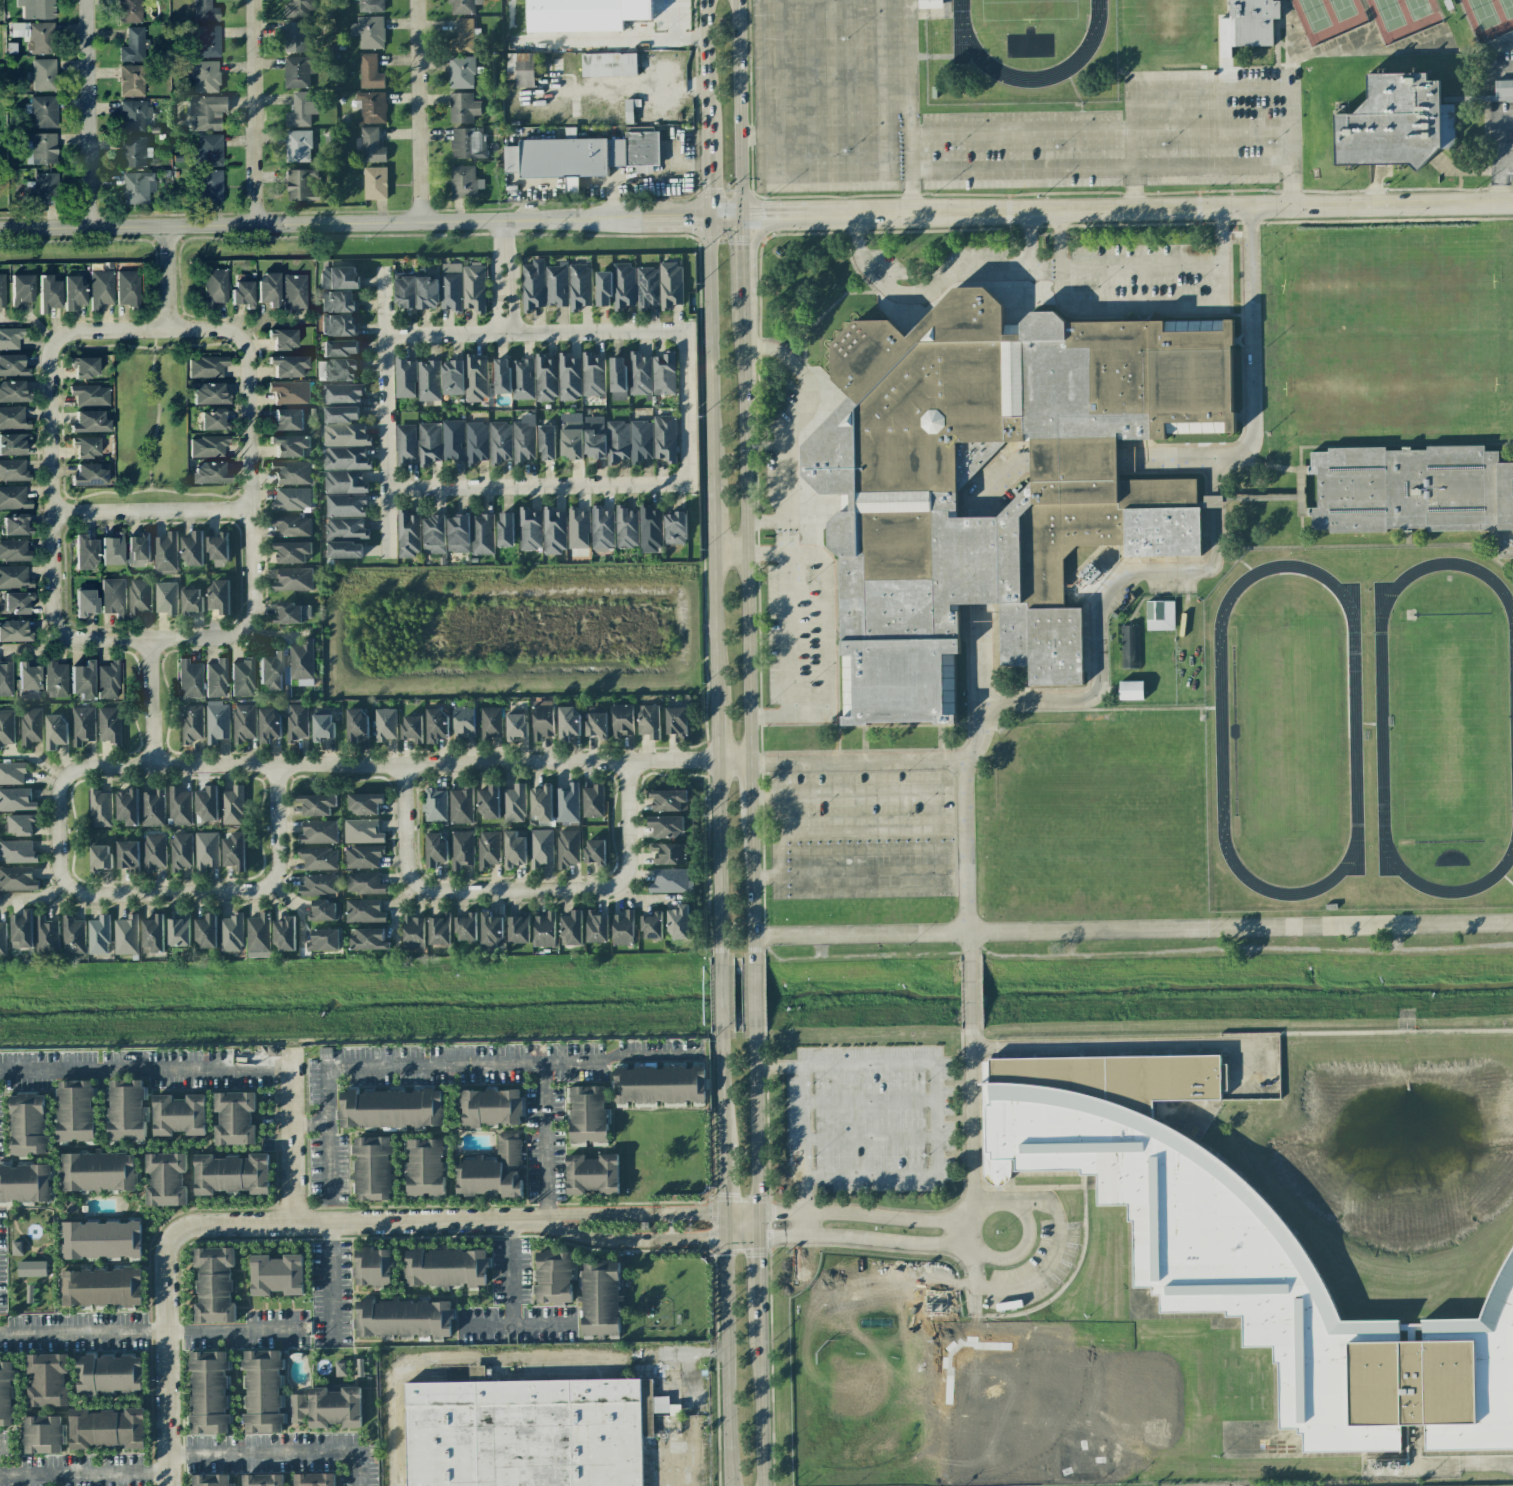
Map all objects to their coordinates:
building: (929, 4)
building: (370, 6)
building: (463, 6)
park: (1506, 7)
building: (298, 8)
park: (1341, 8)
park: (1417, 8)
building: (38, 9)
building: (130, 11)
building: (205, 11)
park: (1028, 11)
park: (1389, 13)
park: (1482, 13)
building: (584, 14)
park: (1313, 14)
road: (671, 19)
building: (1247, 24)
building: (369, 31)
building: (36, 36)
building: (462, 36)
building: (295, 37)
road: (624, 39)
building: (207, 41)
track: (964, 42)
building: (134, 45)
stadium: (1020, 51)
building: (609, 64)
road: (707, 64)
building: (522, 68)
building: (298, 71)
building: (370, 72)
building: (461, 72)
building: (44, 74)
building: (204, 75)
building: (134, 79)
road: (658, 89)
building: (1503, 90)
building: (372, 107)
building: (462, 107)
road: (733, 107)
building: (301, 110)
building: (42, 111)
road: (420, 111)
building: (206, 112)
road: (256, 112)
road: (89, 113)
building: (134, 115)
building: (1392, 120)
road: (1173, 128)
road: (1056, 130)
road: (878, 132)
road: (750, 135)
road: (1500, 137)
building: (467, 143)
building: (370, 145)
building: (298, 146)
road: (1295, 146)
building: (41, 148)
building: (635, 149)
building: (134, 151)
building: (208, 151)
building: (558, 159)
road: (1508, 161)
road: (944, 171)
road: (709, 172)
building: (464, 182)
building: (374, 183)
road: (1503, 183)
building: (304, 184)
building: (210, 186)
building: (137, 187)
building: (41, 190)
road: (756, 215)
traffic signals: (710, 216)
traffic signals: (734, 216)
road: (1061, 237)
road: (1029, 238)
road: (736, 258)
road: (1027, 265)
road: (168, 277)
building: (339, 278)
road: (497, 278)
road: (511, 278)
building: (533, 285)
building: (557, 285)
building: (670, 285)
building: (215, 286)
building: (624, 286)
building: (451, 287)
building: (580, 287)
building: (647, 287)
building: (127, 288)
building: (603, 288)
building: (21, 289)
building: (101, 289)
building: (269, 289)
building: (2, 291)
building: (73, 292)
building: (405, 292)
building: (48, 293)
building: (242, 293)
building: (294, 293)
building: (427, 293)
building: (339, 301)
building: (339, 325)
road: (158, 330)
road: (533, 334)
road: (1251, 337)
building: (10, 338)
building: (284, 339)
road: (712, 343)
building: (340, 348)
building: (12, 365)
building: (289, 366)
building: (85, 367)
building: (207, 367)
building: (338, 370)
building: (639, 373)
building: (664, 373)
building: (617, 374)
building: (593, 375)
building: (501, 376)
building: (452, 377)
building: (569, 377)
building: (405, 378)
building: (475, 378)
building: (545, 378)
building: (522, 379)
building: (428, 380)
building: (12, 392)
building: (290, 392)
building: (209, 393)
building: (341, 393)
building: (90, 395)
road: (387, 407)
road: (685, 407)
building: (341, 414)
building: (13, 418)
building: (212, 419)
building: (287, 419)
building: (90, 422)
building: (345, 435)
building: (571, 435)
building: (594, 437)
building: (524, 438)
building: (665, 438)
building: (453, 440)
building: (617, 441)
building: (640, 441)
building: (476, 442)
building: (547, 442)
building: (406, 443)
building: (429, 443)
building: (499, 443)
building: (13, 444)
building: (289, 445)
building: (208, 446)
building: (86, 447)
building: (345, 458)
road: (1222, 460)
building: (13, 470)
building: (291, 472)
building: (211, 473)
building: (90, 474)
building: (344, 482)
road: (54, 483)
road: (537, 486)
road: (250, 487)
building: (1418, 492)
road: (782, 493)
building: (13, 498)
building: (291, 499)
building: (346, 505)
building: (1107, 507)
road: (715, 510)
road: (152, 511)
building: (15, 524)
building: (292, 525)
building: (626, 527)
road: (761, 527)
building: (346, 528)
building: (602, 528)
building: (675, 528)
building: (505, 529)
building: (530, 529)
building: (578, 529)
building: (650, 530)
building: (554, 531)
road: (743, 532)
building: (459, 533)
building: (408, 534)
building: (434, 534)
building: (482, 534)
road: (1413, 546)
building: (112, 549)
building: (192, 549)
building: (13, 550)
building: (139, 550)
building: (218, 550)
building: (345, 550)
road: (747, 550)
building: (84, 552)
building: (165, 552)
building: (291, 552)
building: (1090, 573)
building: (14, 577)
building: (293, 580)
road: (1107, 593)
building: (219, 595)
building: (113, 596)
building: (139, 597)
building: (166, 598)
building: (191, 601)
building: (85, 602)
building: (15, 603)
building: (292, 613)
building: (1159, 615)
road: (715, 619)
building: (14, 631)
road: (829, 631)
road: (153, 639)
building: (1129, 646)
building: (301, 662)
building: (271, 671)
building: (216, 678)
building: (243, 678)
building: (6, 679)
building: (56, 679)
building: (189, 679)
building: (29, 680)
building: (83, 680)
building: (108, 680)
building: (1131, 690)
road: (150, 703)
building: (1099, 717)
building: (622, 720)
building: (463, 721)
building: (542, 721)
building: (649, 721)
building: (677, 721)
building: (216, 722)
building: (244, 722)
building: (296, 722)
building: (491, 722)
building: (568, 722)
building: (191, 723)
building: (108, 724)
building: (268, 724)
building: (356, 724)
building: (385, 724)
building: (596, 724)
building: (82, 725)
building: (436, 725)
road: (716, 725)
building: (30, 726)
building: (6, 727)
building: (322, 727)
building: (516, 727)
track: (1381, 727)
park: (1448, 727)
building: (412, 728)
park: (1290, 728)
track: (1220, 730)
building: (55, 731)
road: (931, 763)
road: (405, 764)
building: (12, 773)
road: (748, 787)
building: (16, 799)
building: (669, 800)
building: (592, 801)
building: (488, 802)
building: (206, 803)
building: (364, 803)
building: (513, 803)
building: (541, 803)
building: (567, 803)
building: (316, 804)
building: (435, 805)
building: (460, 805)
building: (179, 806)
building: (232, 806)
building: (127, 807)
building: (152, 807)
building: (100, 808)
road: (784, 822)
building: (21, 824)
road: (402, 824)
road: (628, 824)
building: (667, 826)
road: (275, 829)
road: (61, 831)
building: (362, 831)
building: (318, 832)
building: (541, 847)
building: (435, 848)
building: (567, 848)
road: (964, 848)
building: (206, 849)
building: (461, 849)
building: (487, 849)
building: (514, 849)
building: (17, 851)
building: (180, 851)
building: (234, 851)
building: (594, 851)
building: (153, 852)
building: (669, 853)
building: (127, 854)
building: (363, 856)
building: (100, 857)
building: (318, 858)
road: (719, 861)
building: (17, 879)
building: (669, 880)
road: (859, 880)
building: (364, 883)
building: (318, 885)
road: (753, 886)
road: (513, 889)
road: (165, 893)
road: (642, 899)
building: (322, 911)
building: (362, 911)
building: (678, 922)
building: (652, 925)
building: (466, 927)
building: (597, 927)
building: (518, 928)
building: (571, 928)
building: (622, 928)
building: (21, 929)
building: (439, 929)
building: (491, 929)
building: (544, 929)
road: (1132, 930)
building: (205, 931)
building: (413, 931)
building: (178, 932)
building: (231, 933)
building: (258, 933)
building: (284, 934)
building: (98, 935)
building: (126, 935)
building: (152, 935)
building: (46, 936)
building: (73, 937)
building: (2, 939)
building: (323, 939)
building: (368, 939)
road: (967, 948)
road: (968, 993)
road: (720, 995)
road: (752, 996)
road: (440, 1056)
road: (228, 1058)
road: (914, 1064)
road: (720, 1082)
building: (659, 1085)
road: (871, 1100)
building: (490, 1107)
building: (390, 1108)
building: (75, 1110)
building: (126, 1110)
building: (587, 1114)
building: (179, 1115)
road: (970, 1116)
building: (235, 1118)
building: (28, 1124)
road: (312, 1124)
road: (753, 1134)
road: (546, 1135)
road: (870, 1135)
building: (372, 1167)
building: (425, 1167)
building: (493, 1171)
building: (98, 1172)
road: (721, 1172)
building: (231, 1174)
building: (592, 1174)
building: (166, 1179)
building: (25, 1183)
road: (1008, 1199)
traffic signals: (722, 1211)
road: (737, 1211)
traffic signals: (752, 1211)
road: (632, 1213)
road: (861, 1214)
road: (362, 1221)
road: (804, 1224)
road: (722, 1225)
road: (737, 1238)
traffic signals: (753, 1238)
traffic signals: (722, 1239)
building: (101, 1240)
road: (629, 1240)
road: (870, 1240)
building: (17, 1248)
building: (1252, 1260)
road: (1045, 1264)
road: (966, 1266)
building: (373, 1267)
building: (446, 1267)
building: (32, 1268)
road: (512, 1270)
road: (754, 1271)
building: (276, 1275)
building: (555, 1277)
road: (336, 1282)
building: (214, 1284)
building: (101, 1287)
building: (600, 1298)
building: (403, 1318)
road: (520, 1324)
road: (146, 1334)
road: (164, 1355)
road: (498, 1357)
road: (724, 1362)
building: (340, 1369)
building: (108, 1374)
building: (48, 1380)
building: (263, 1391)
building: (209, 1392)
building: (6, 1393)
road: (758, 1395)
building: (327, 1407)
road: (695, 1418)
building: (107, 1428)
building: (529, 1432)
building: (43, 1434)
road: (3, 1447)
road: (188, 1452)
building: (314, 1479)
building: (210, 1480)
building: (262, 1480)

